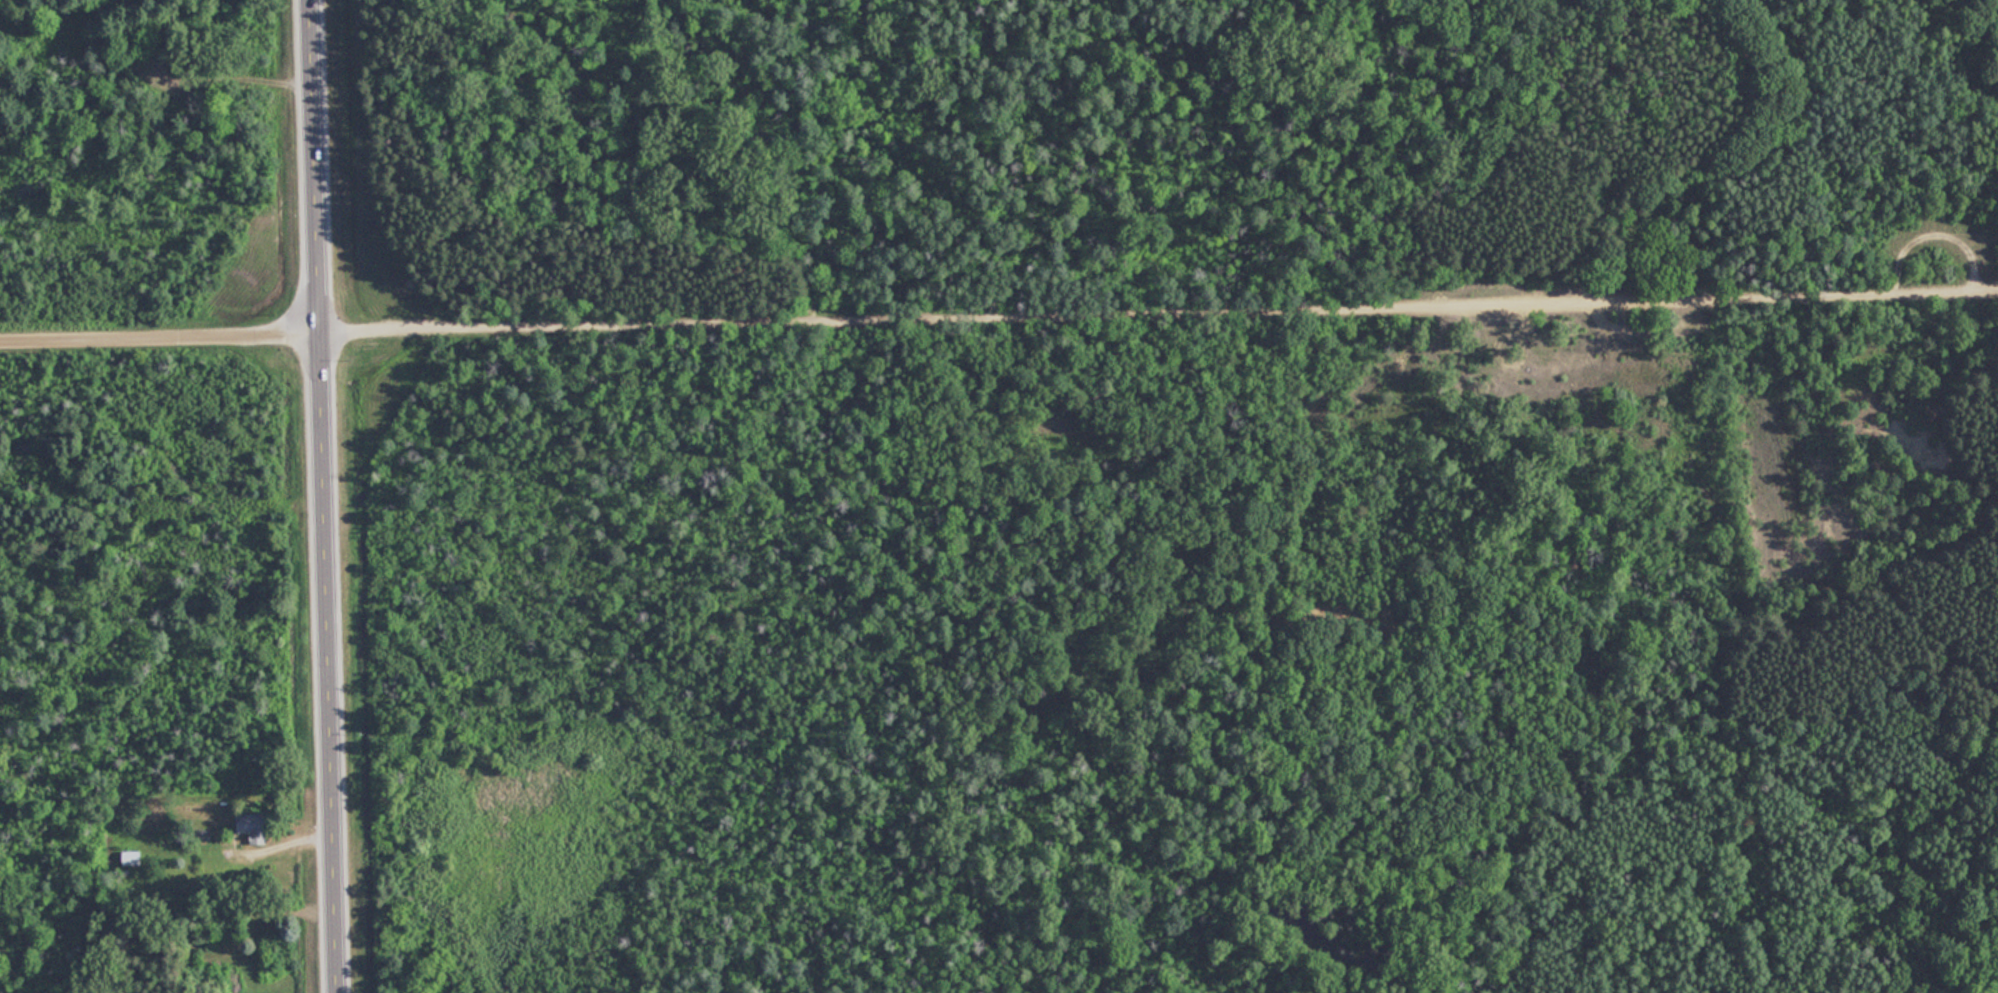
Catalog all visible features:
road: (1158, 313)
road: (159, 336)
park: (1063, 483)
road: (321, 496)
building: (254, 828)
building: (131, 859)

